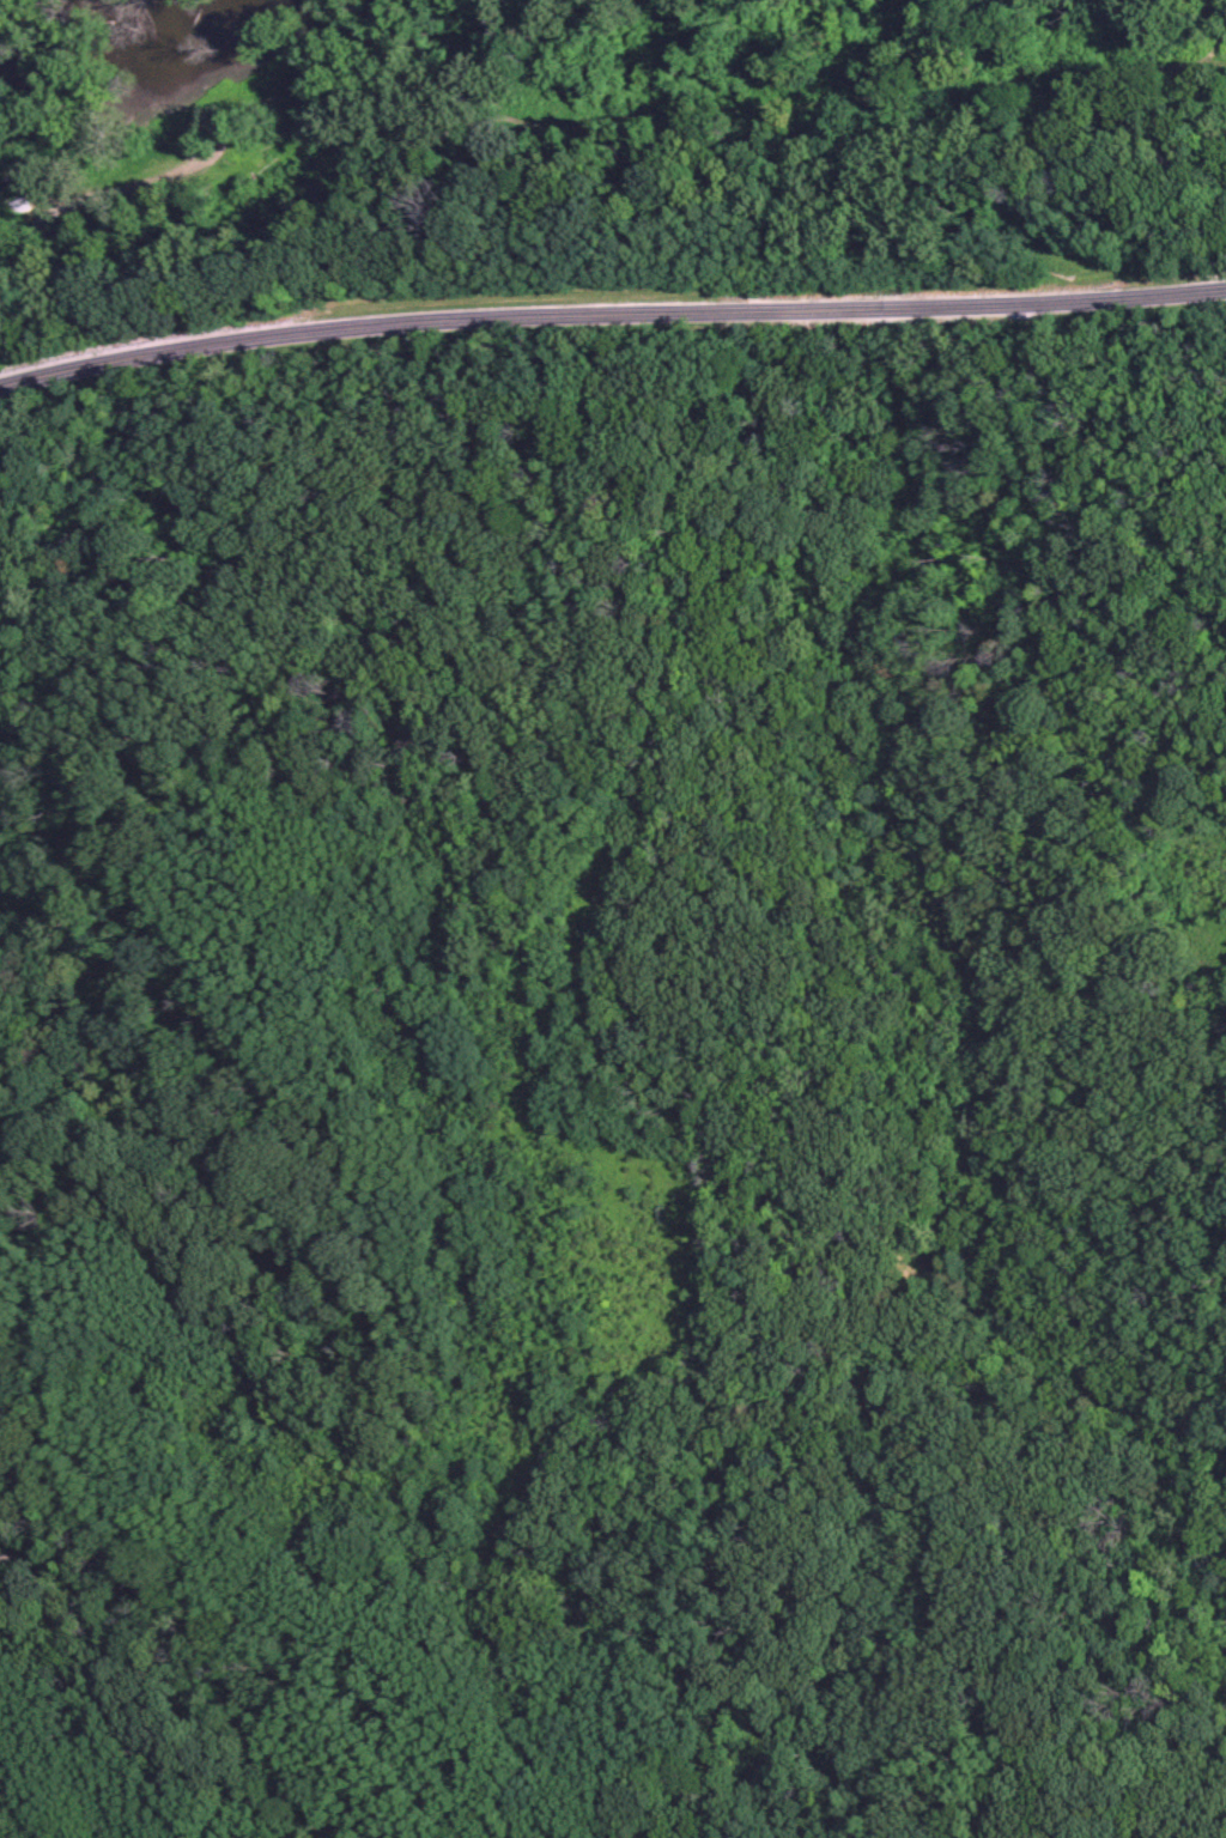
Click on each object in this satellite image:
road: (691, 68)
road: (90, 196)
road: (611, 316)

